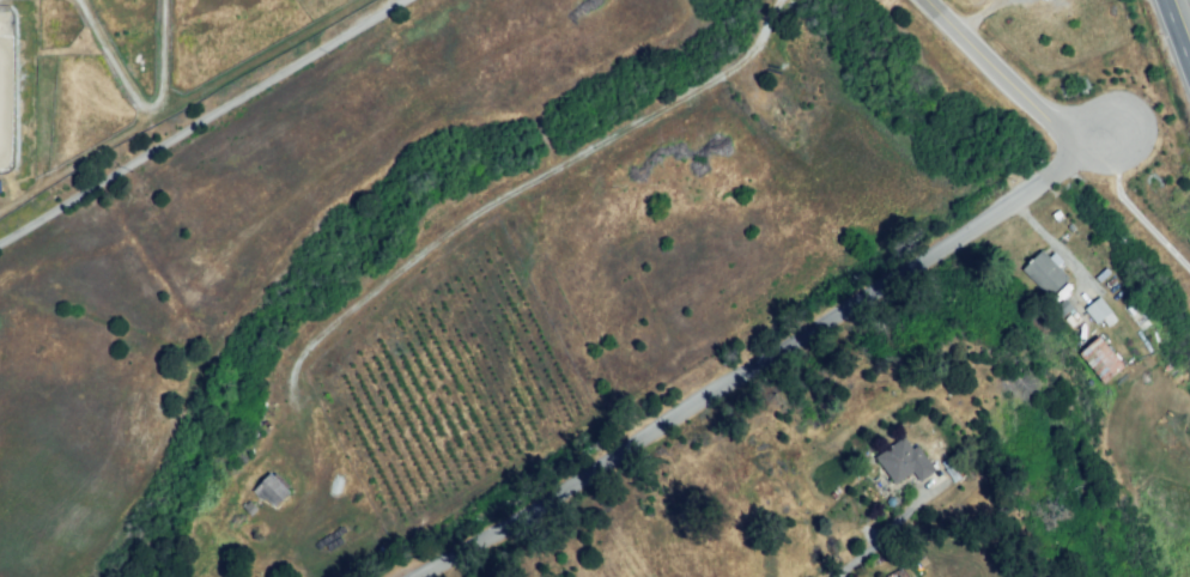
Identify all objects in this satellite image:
road: (984, 16)
road: (1178, 30)
road: (1010, 85)
road: (139, 97)
road: (196, 116)
road: (518, 186)
road: (1133, 211)
building: (1044, 273)
building: (1061, 308)
building: (1098, 308)
road: (773, 354)
building: (1100, 358)
building: (901, 462)
building: (272, 490)
road: (880, 537)
building: (900, 576)

